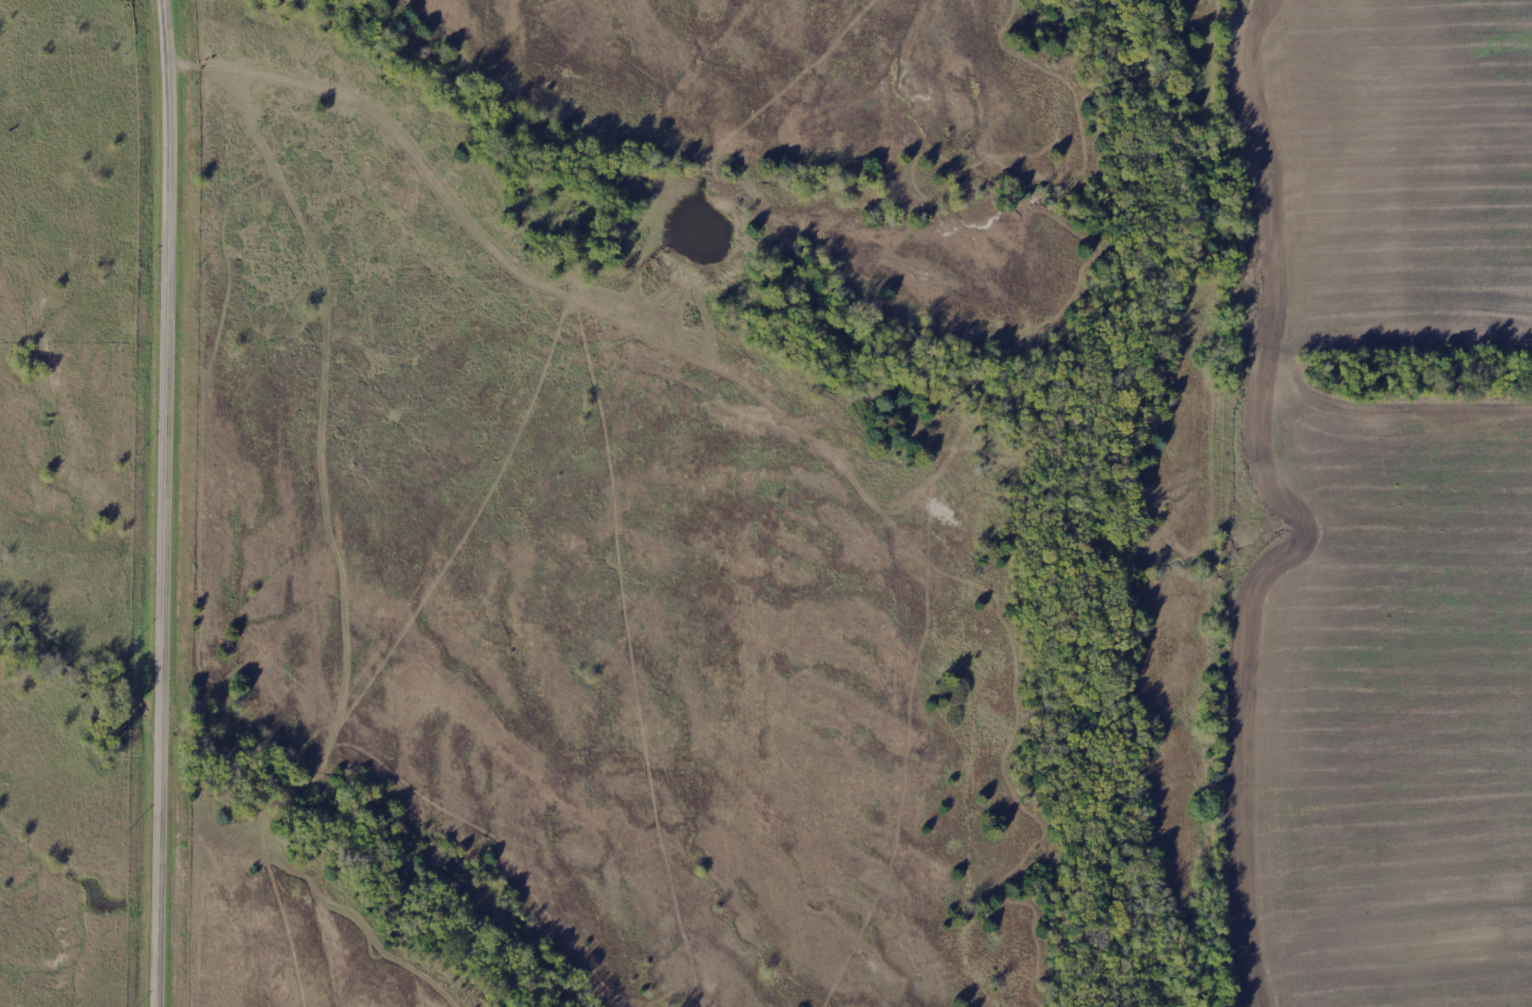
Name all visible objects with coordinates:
road: (170, 503)

